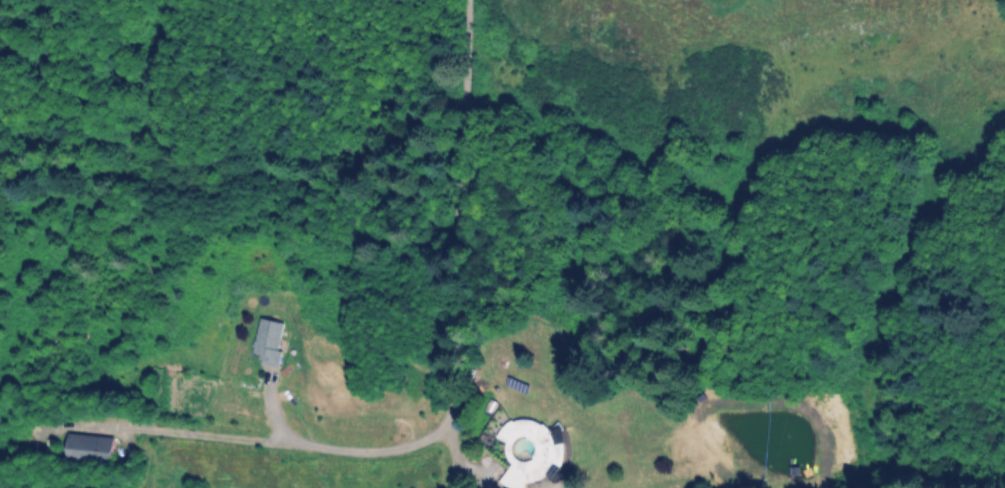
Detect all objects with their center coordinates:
road: (454, 245)
building: (270, 340)
road: (274, 438)
building: (91, 450)
building: (530, 451)

